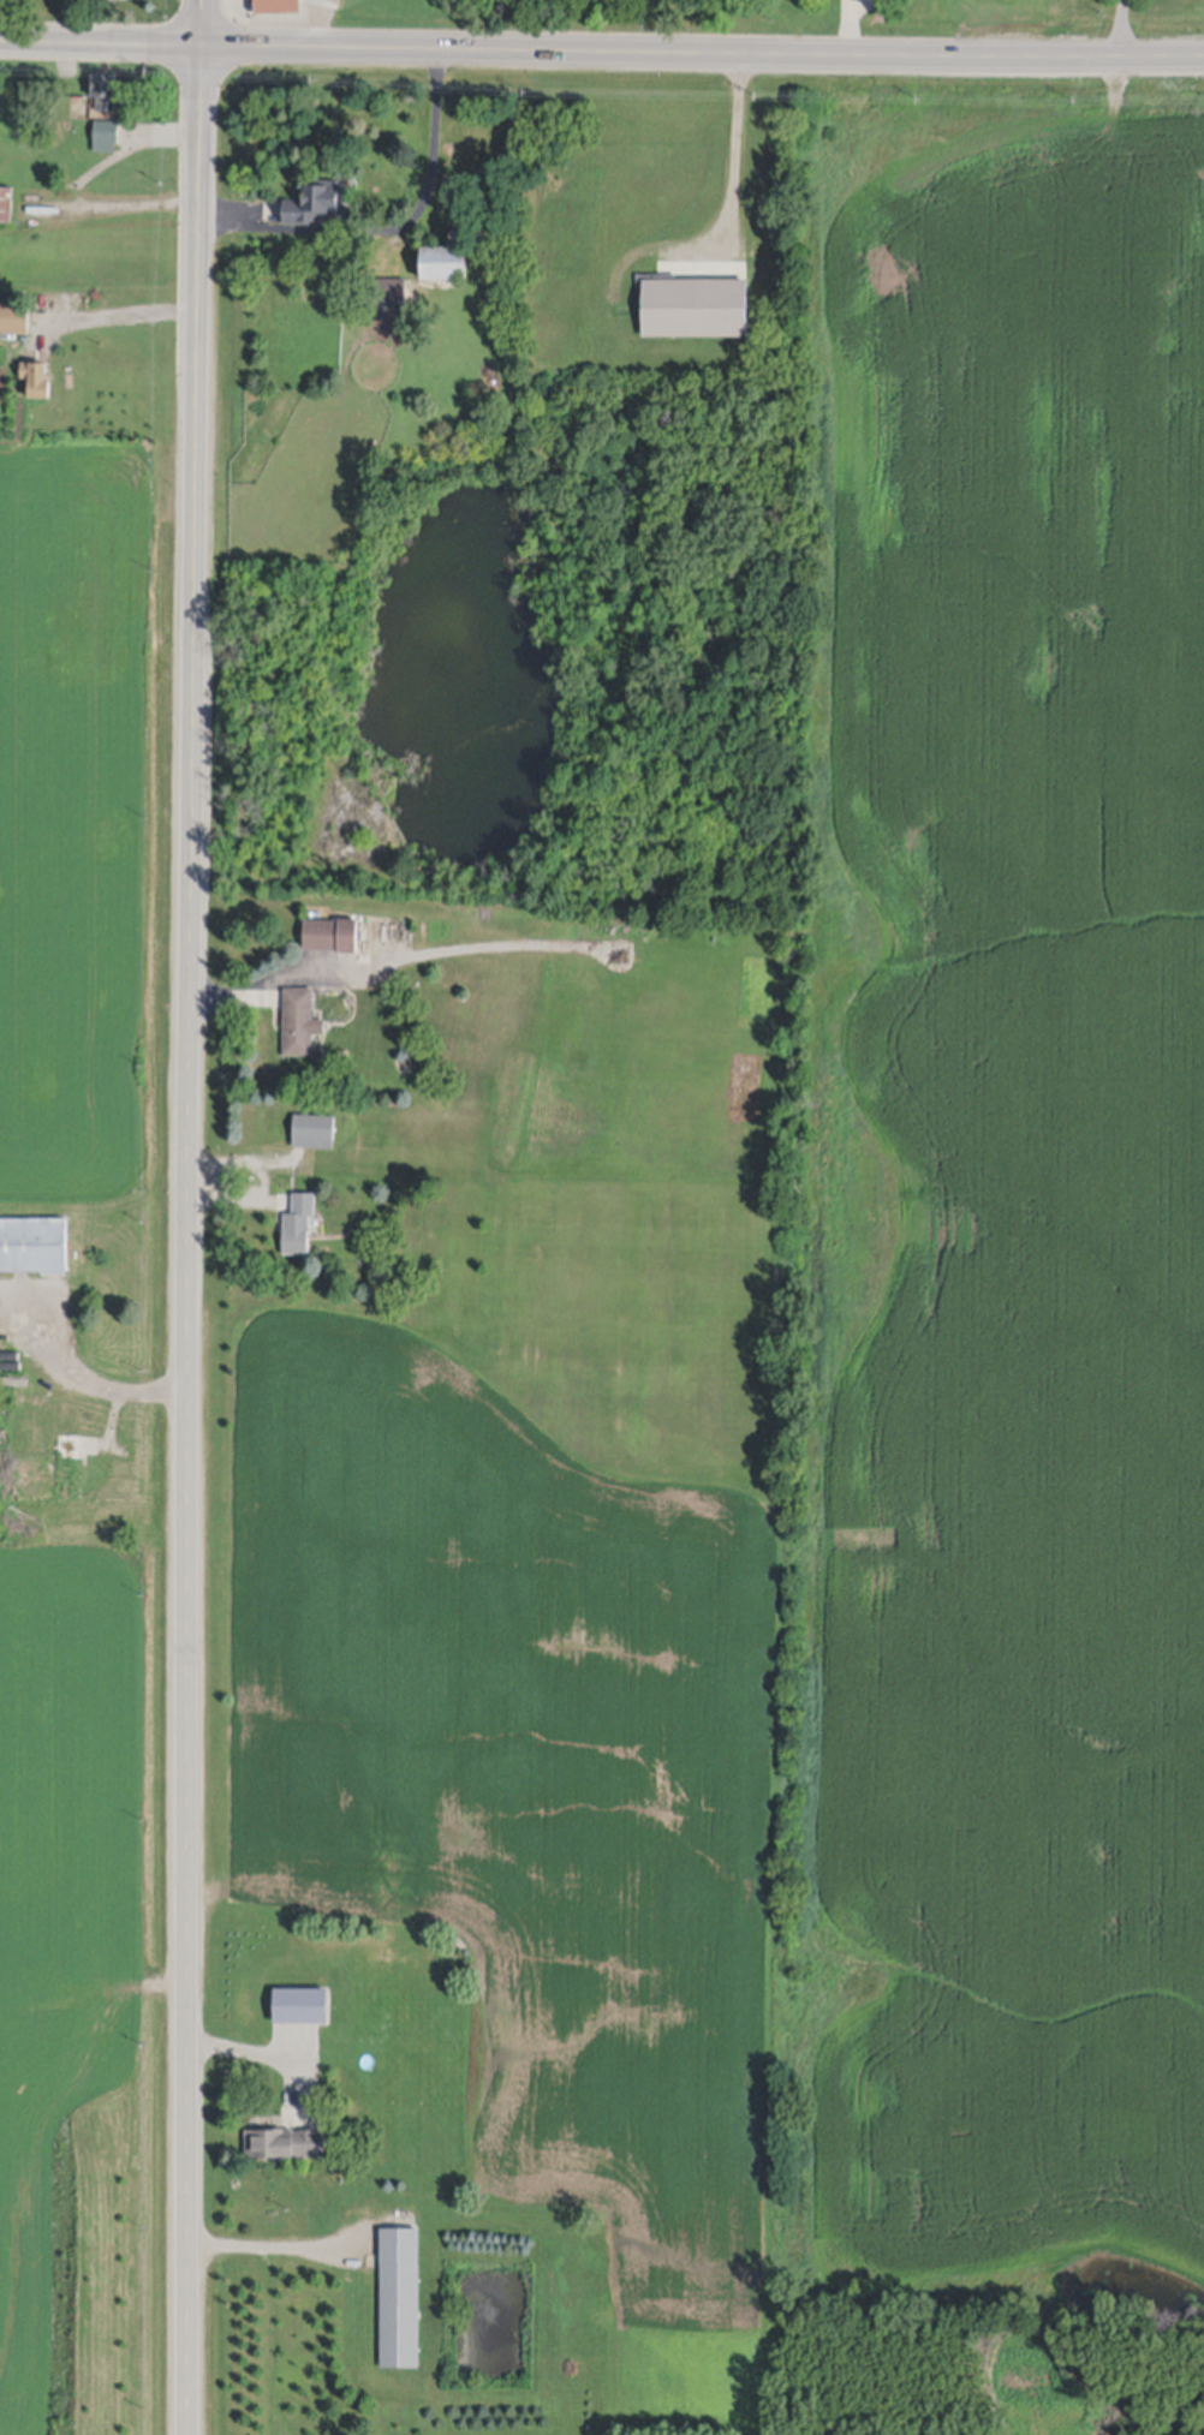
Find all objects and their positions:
building: (121, 0)
building: (276, 5)
road: (314, 20)
road: (1122, 25)
road: (602, 46)
building: (106, 88)
building: (107, 127)
road: (726, 151)
building: (312, 198)
building: (6, 201)
road: (394, 222)
building: (458, 233)
building: (443, 257)
building: (382, 292)
building: (693, 302)
road: (133, 311)
building: (14, 315)
building: (36, 375)
building: (332, 932)
road: (285, 978)
building: (299, 1020)
building: (314, 1129)
road: (189, 1217)
building: (298, 1222)
building: (34, 1243)
crop: (1006, 1251)
road: (106, 1378)
quarry: (85, 1427)
building: (70, 1466)
building: (260, 1987)
building: (285, 2005)
building: (285, 2145)
road: (280, 2245)
building: (400, 2300)
quarry: (990, 2379)

